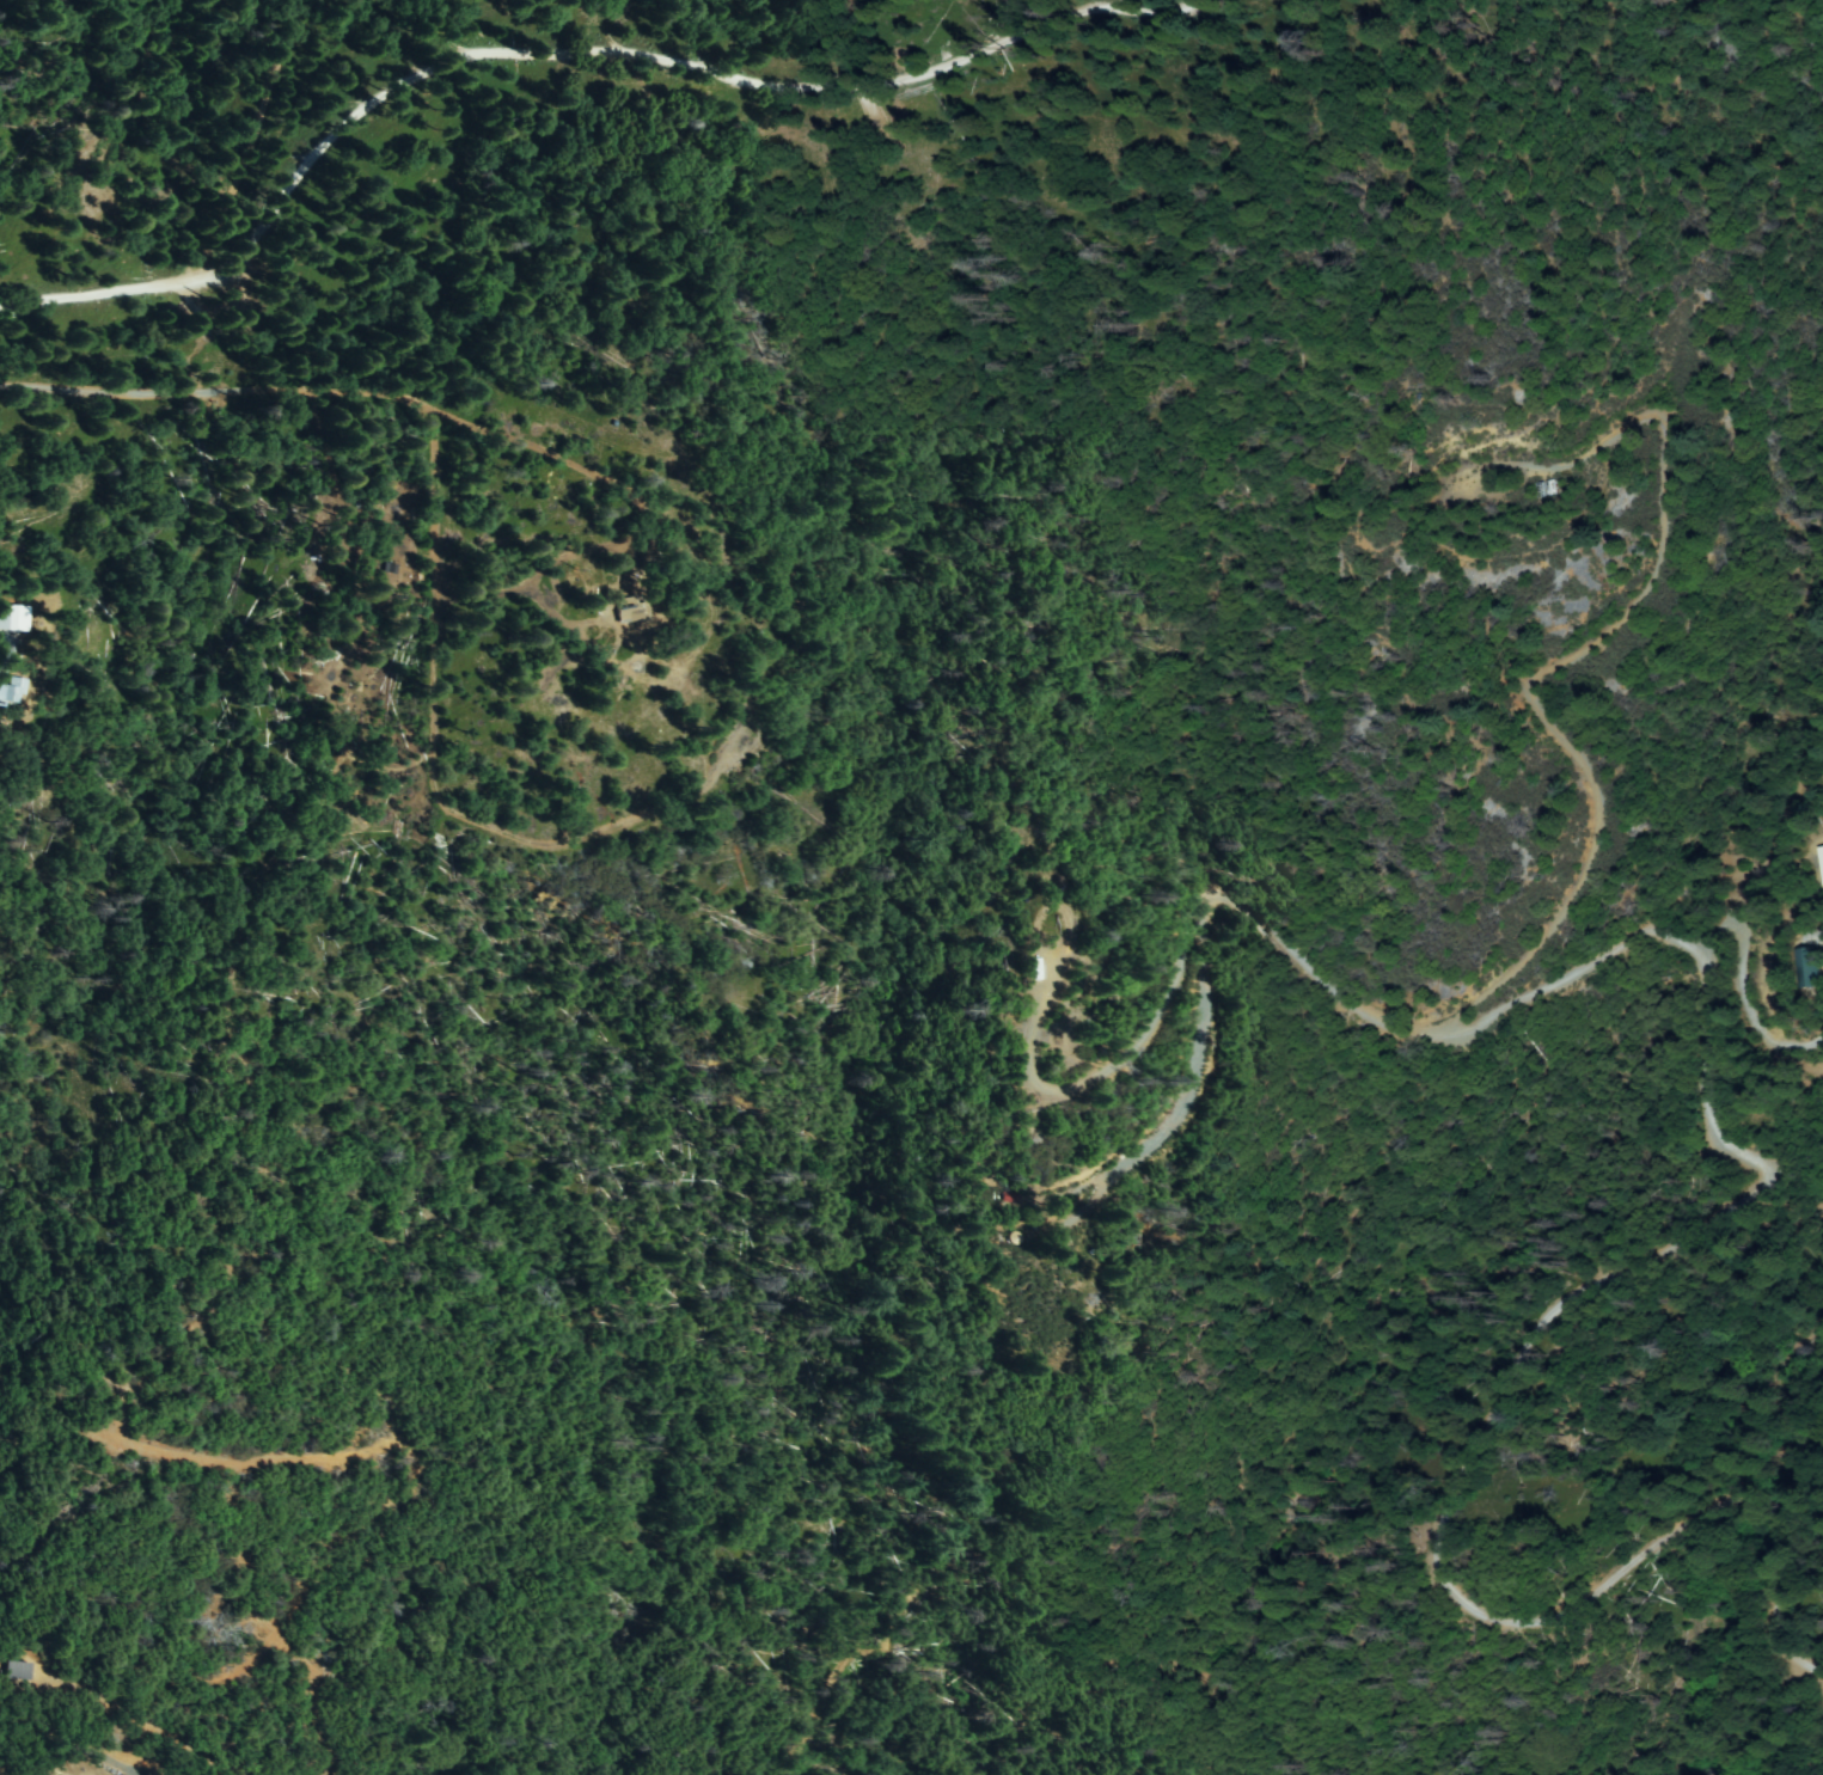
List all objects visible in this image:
road: (1155, 2)
road: (508, 43)
building: (1549, 489)
building: (631, 610)
building: (14, 618)
building: (12, 692)
building: (1822, 852)
building: (1811, 968)
road: (1380, 1012)
building: (19, 1671)

